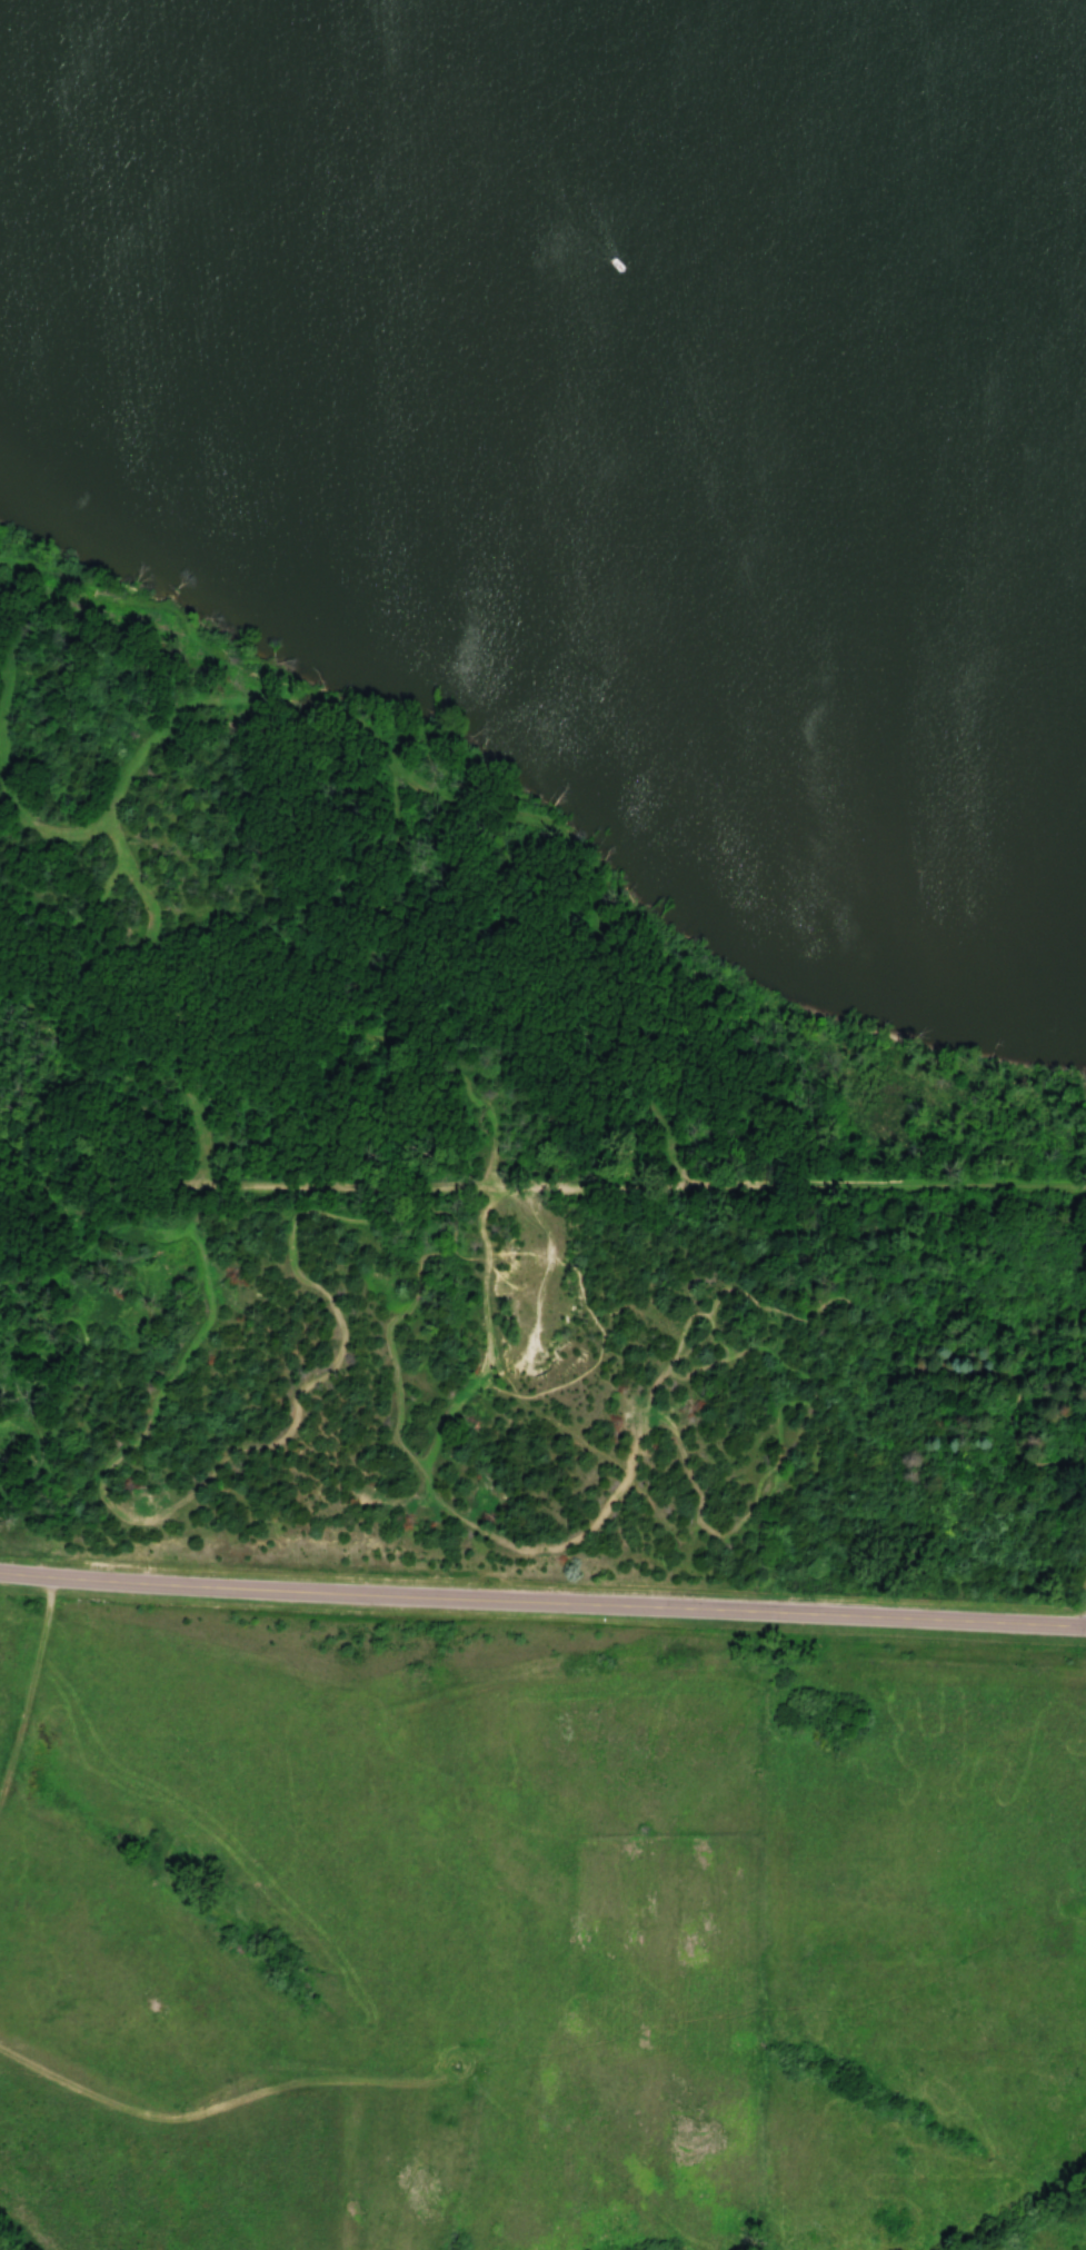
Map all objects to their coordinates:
road: (187, 634)
road: (12, 641)
park: (546, 796)
road: (376, 902)
road: (598, 920)
road: (175, 1023)
road: (542, 1184)
road: (391, 1355)
road: (666, 1368)
road: (37, 1446)
road: (542, 1592)
parking lot: (1085, 1592)

